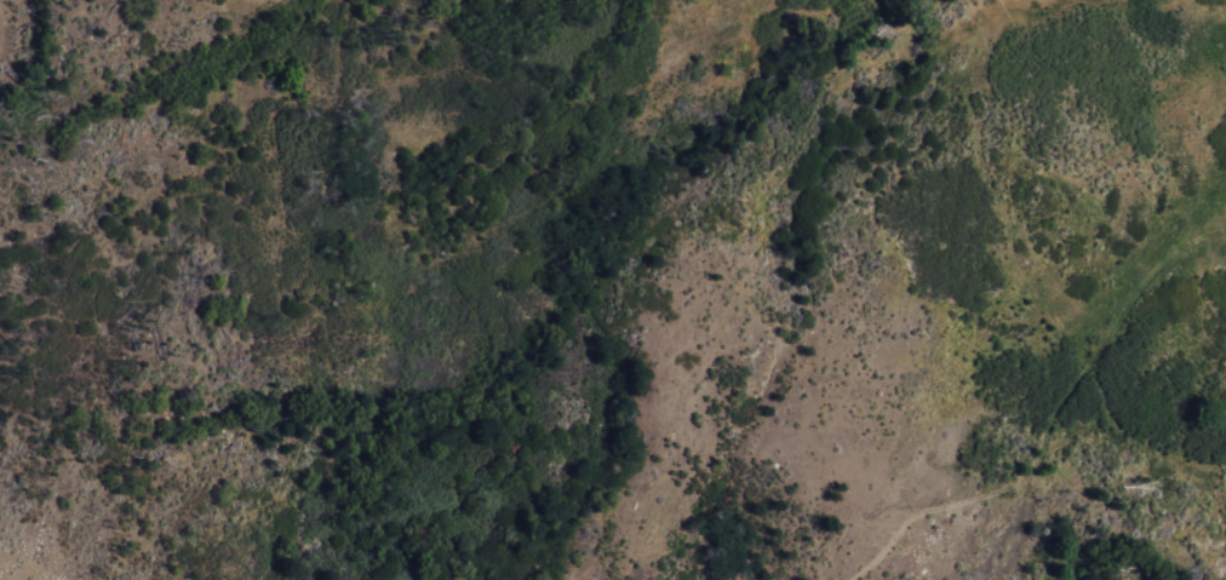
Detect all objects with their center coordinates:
road: (1129, 287)
road: (1138, 444)
road: (970, 507)
road: (1214, 535)

